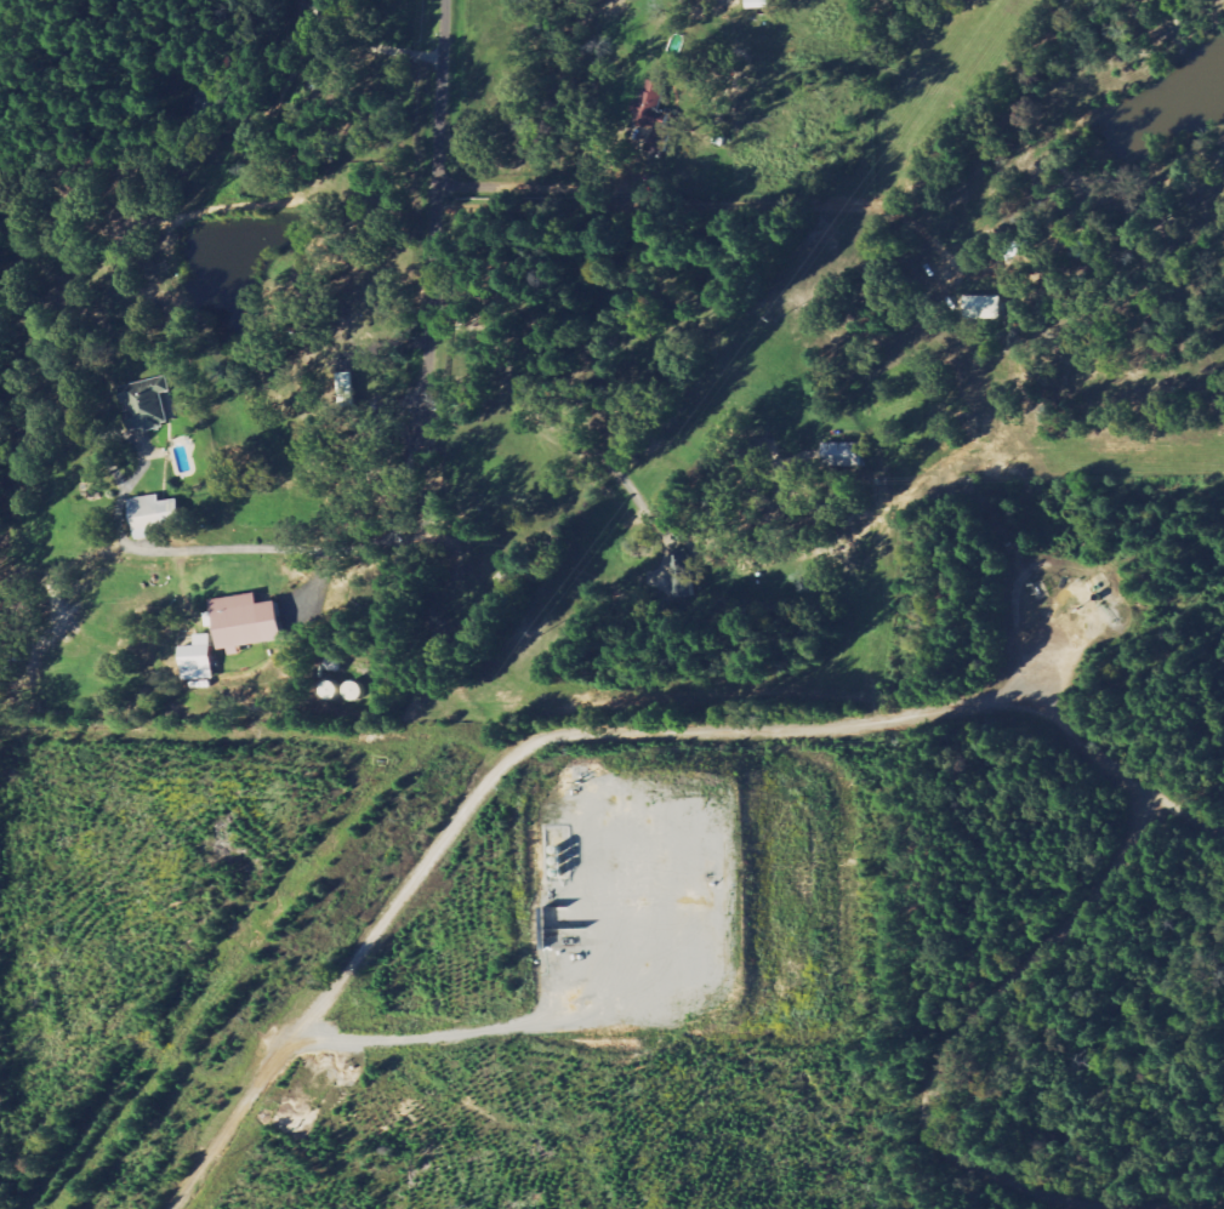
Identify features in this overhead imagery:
building: (655, 118)
road: (439, 223)
building: (144, 404)
building: (842, 455)
building: (153, 512)
building: (244, 621)
building: (195, 660)
building: (328, 691)
building: (353, 691)
road: (605, 734)
road: (969, 1016)
road: (1192, 1207)

